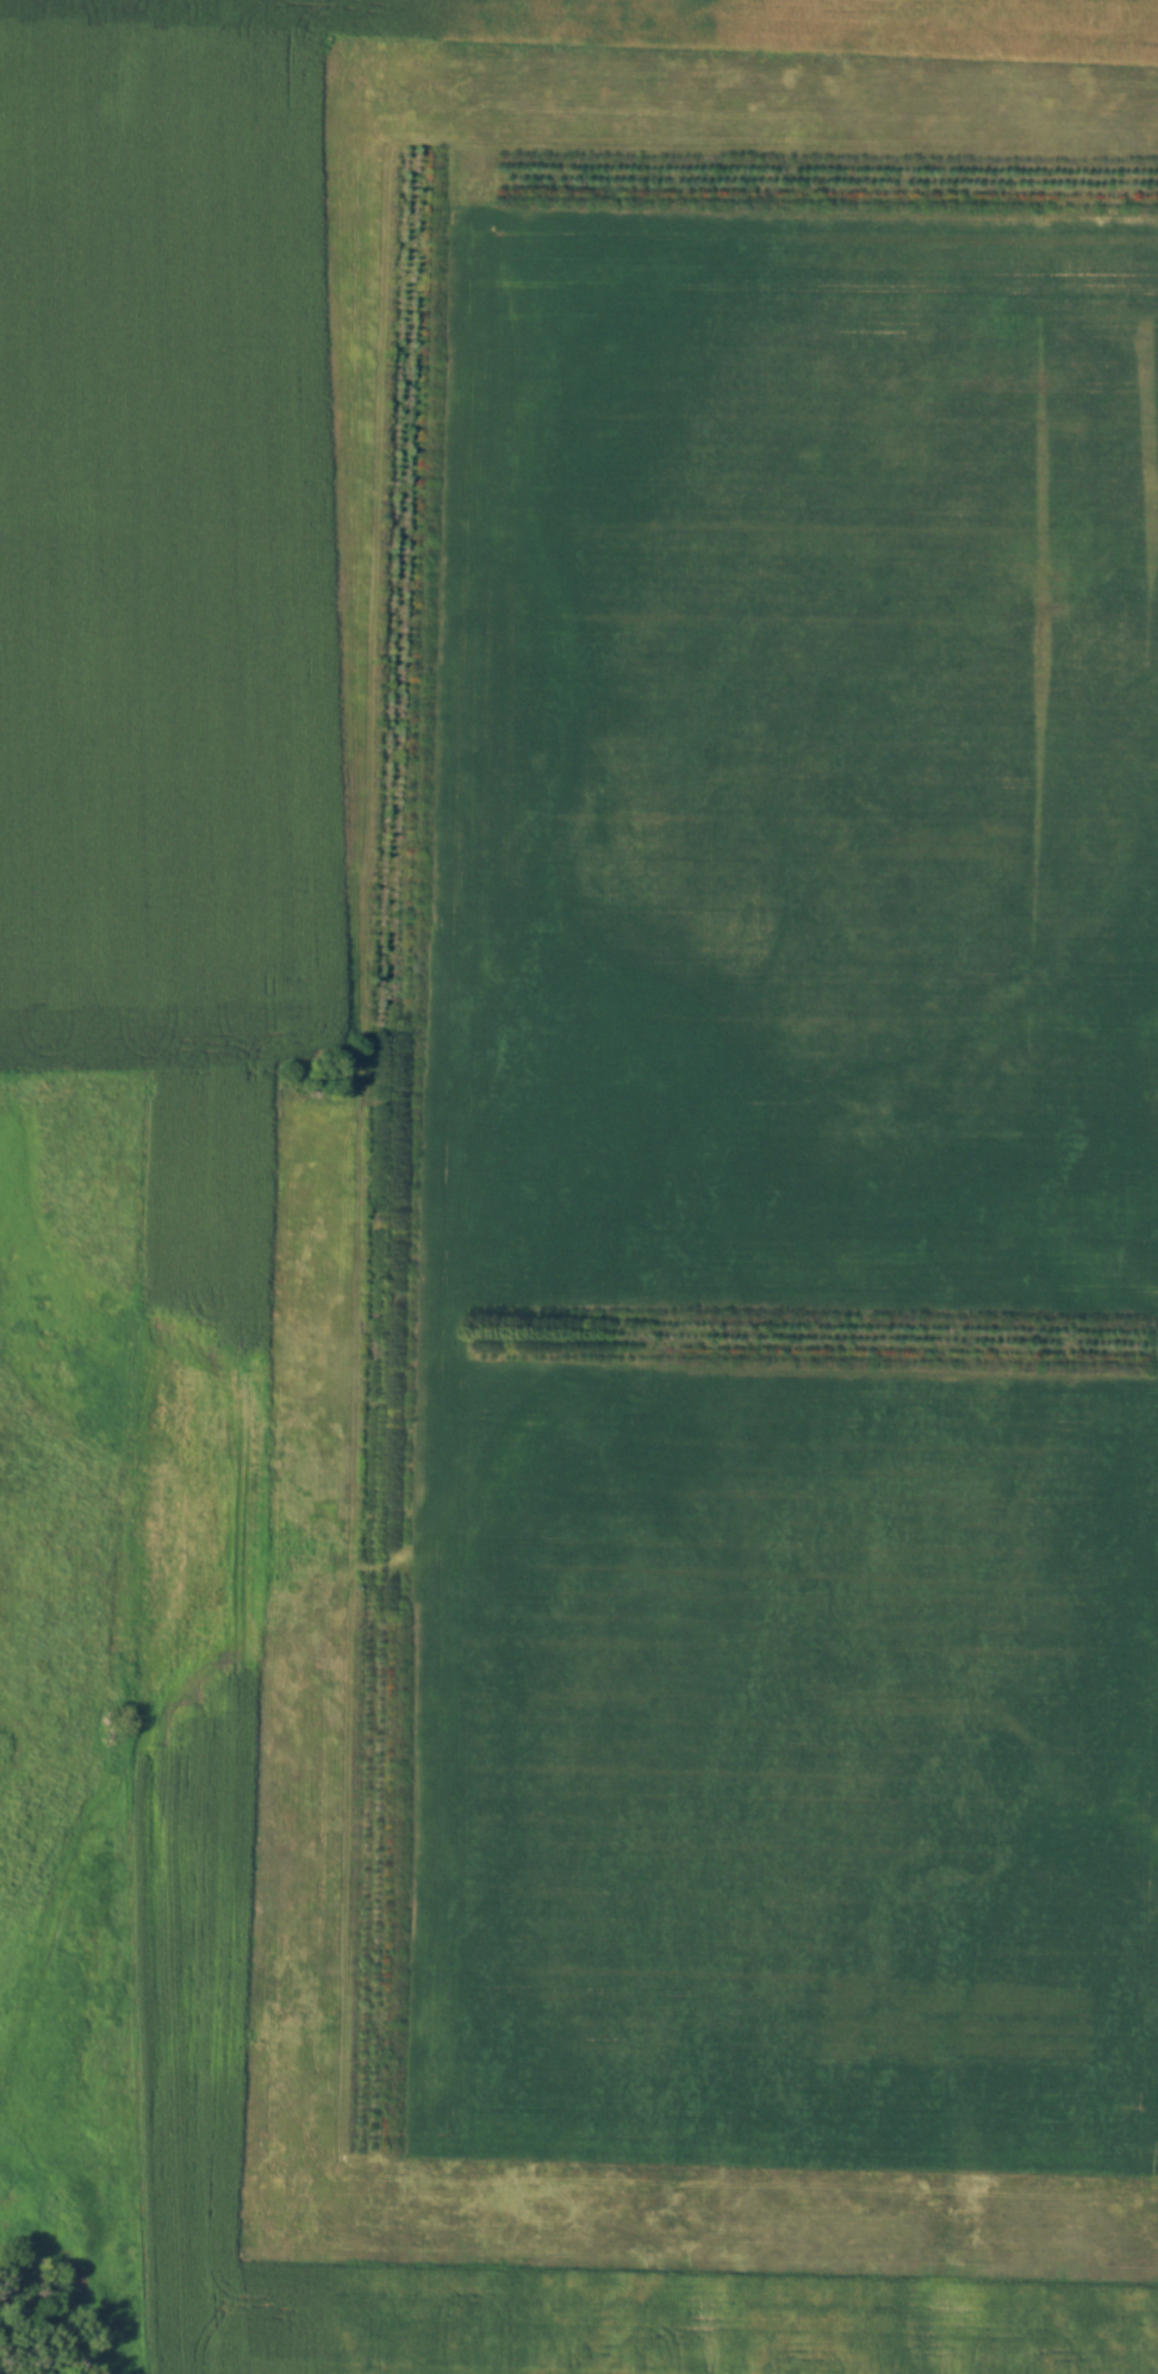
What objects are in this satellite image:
road: (385, 1863)

